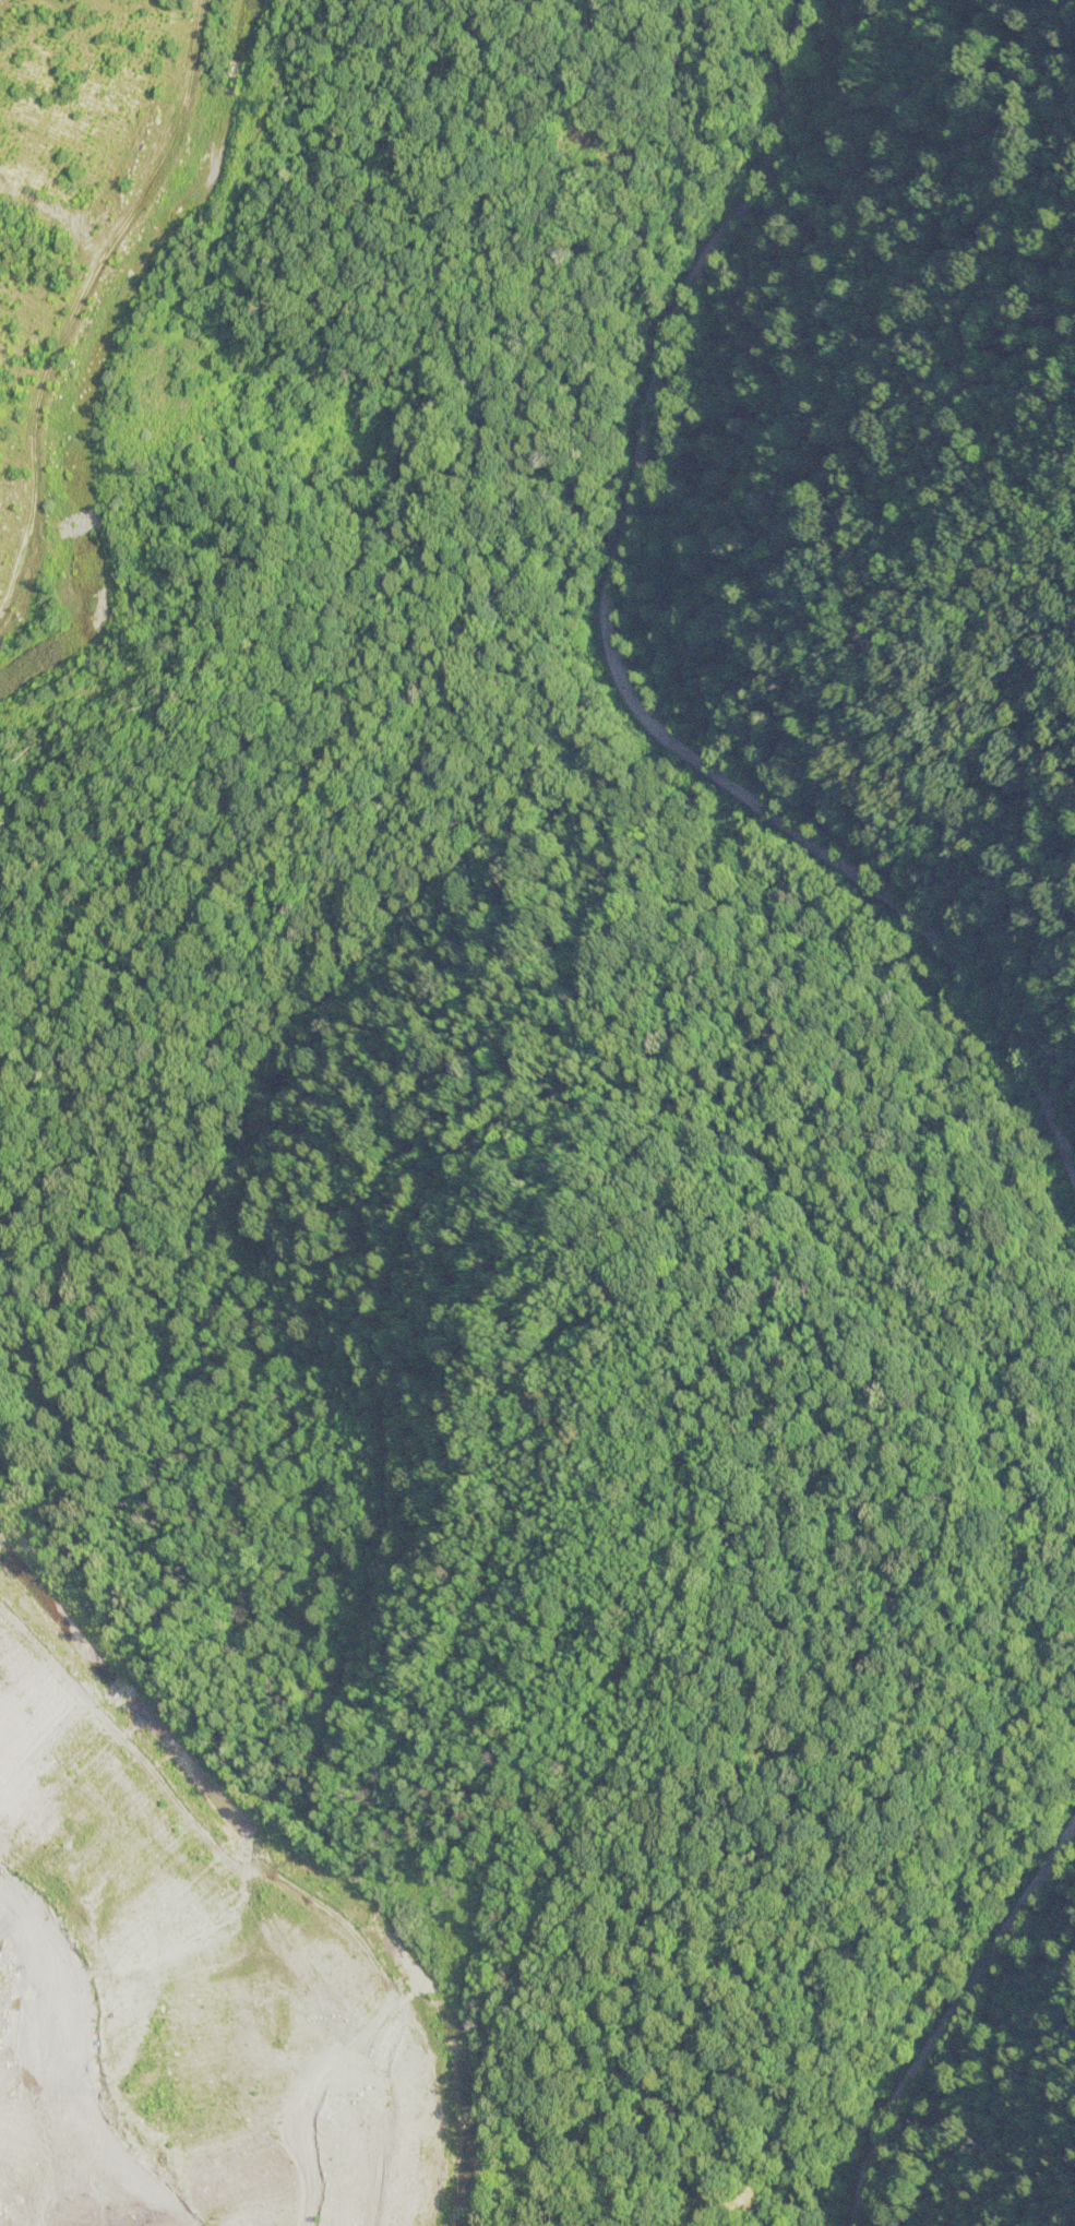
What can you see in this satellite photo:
building: (237, 31)
quarry: (96, 271)
road: (620, 664)
quarry: (196, 1971)
road: (944, 2020)

